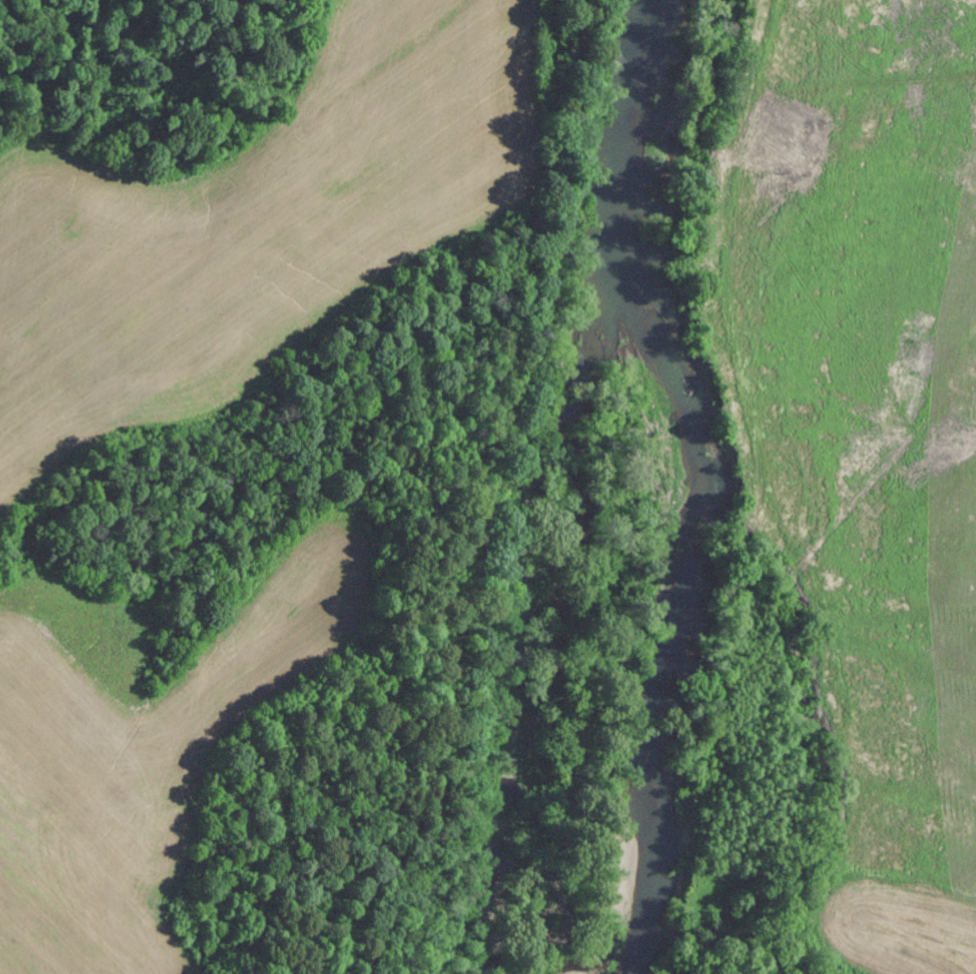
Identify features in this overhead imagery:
river: (672, 486)

